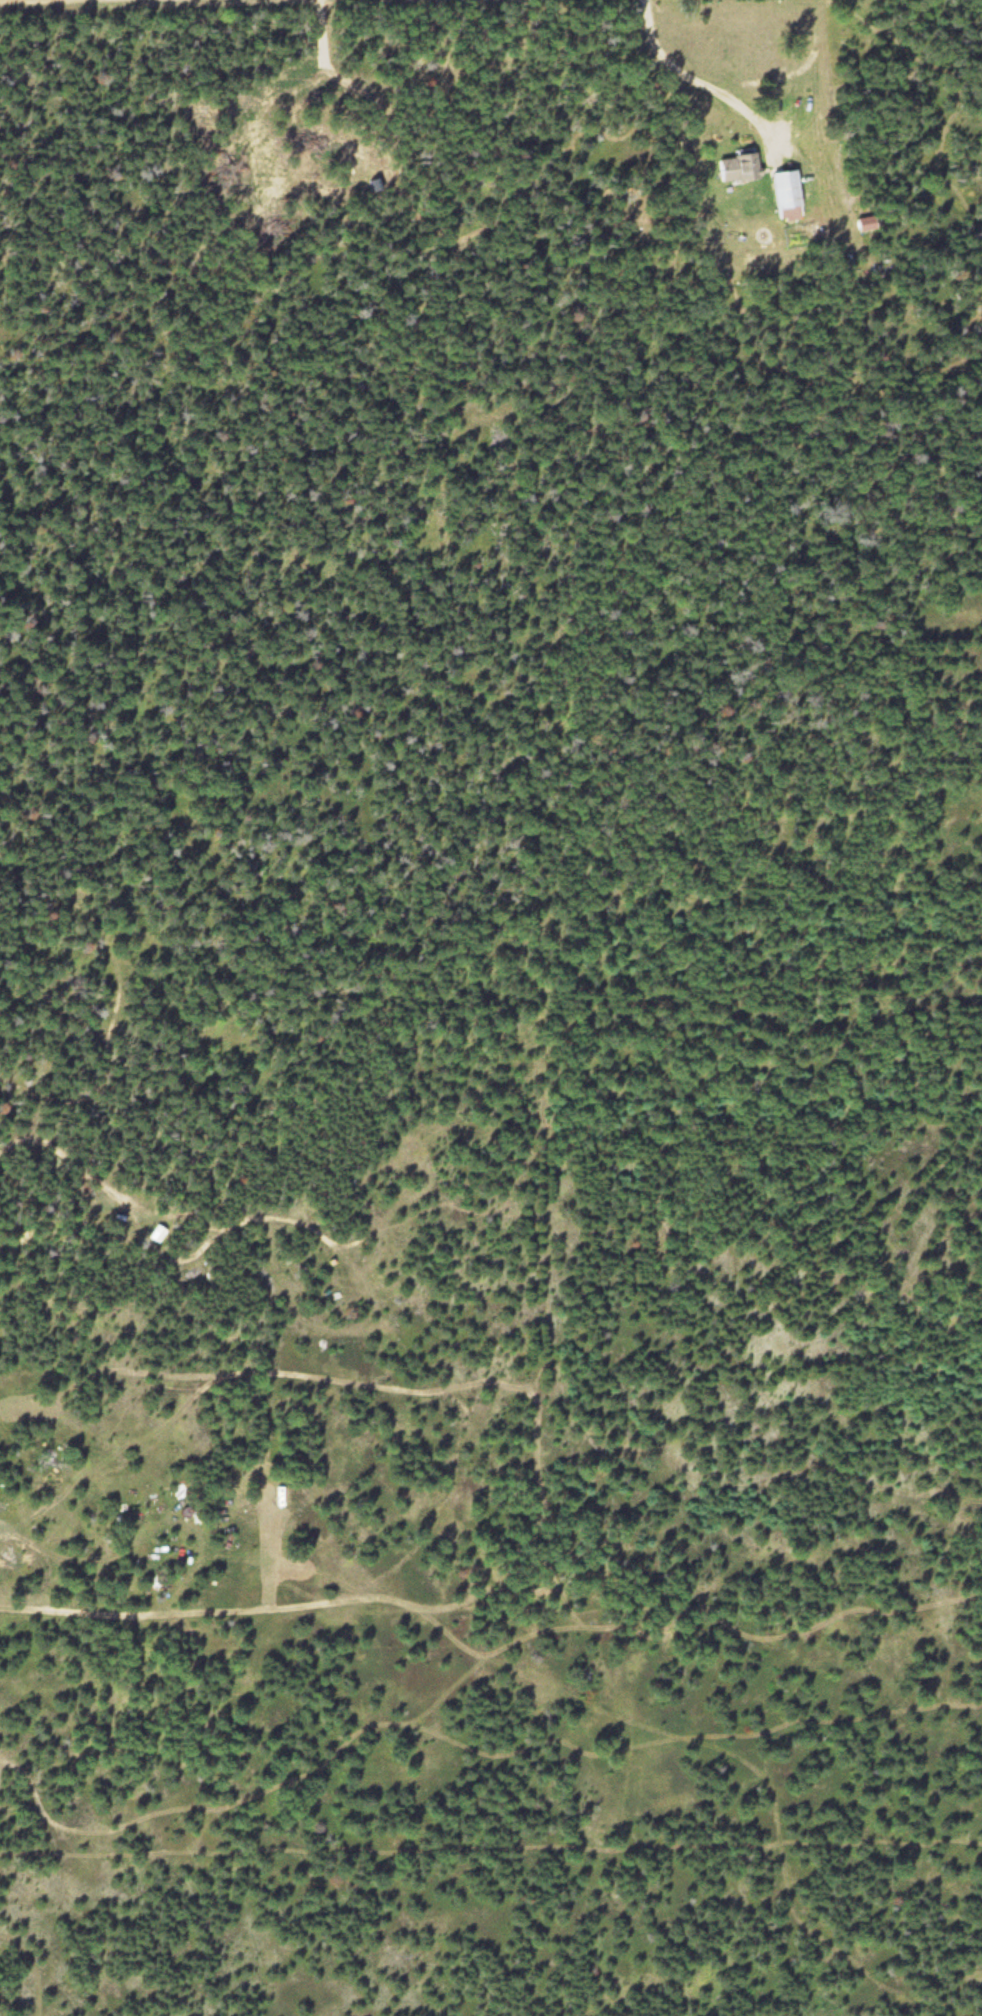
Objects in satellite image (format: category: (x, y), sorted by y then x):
building: (734, 169)
building: (783, 195)
building: (159, 1235)
building: (281, 1498)

